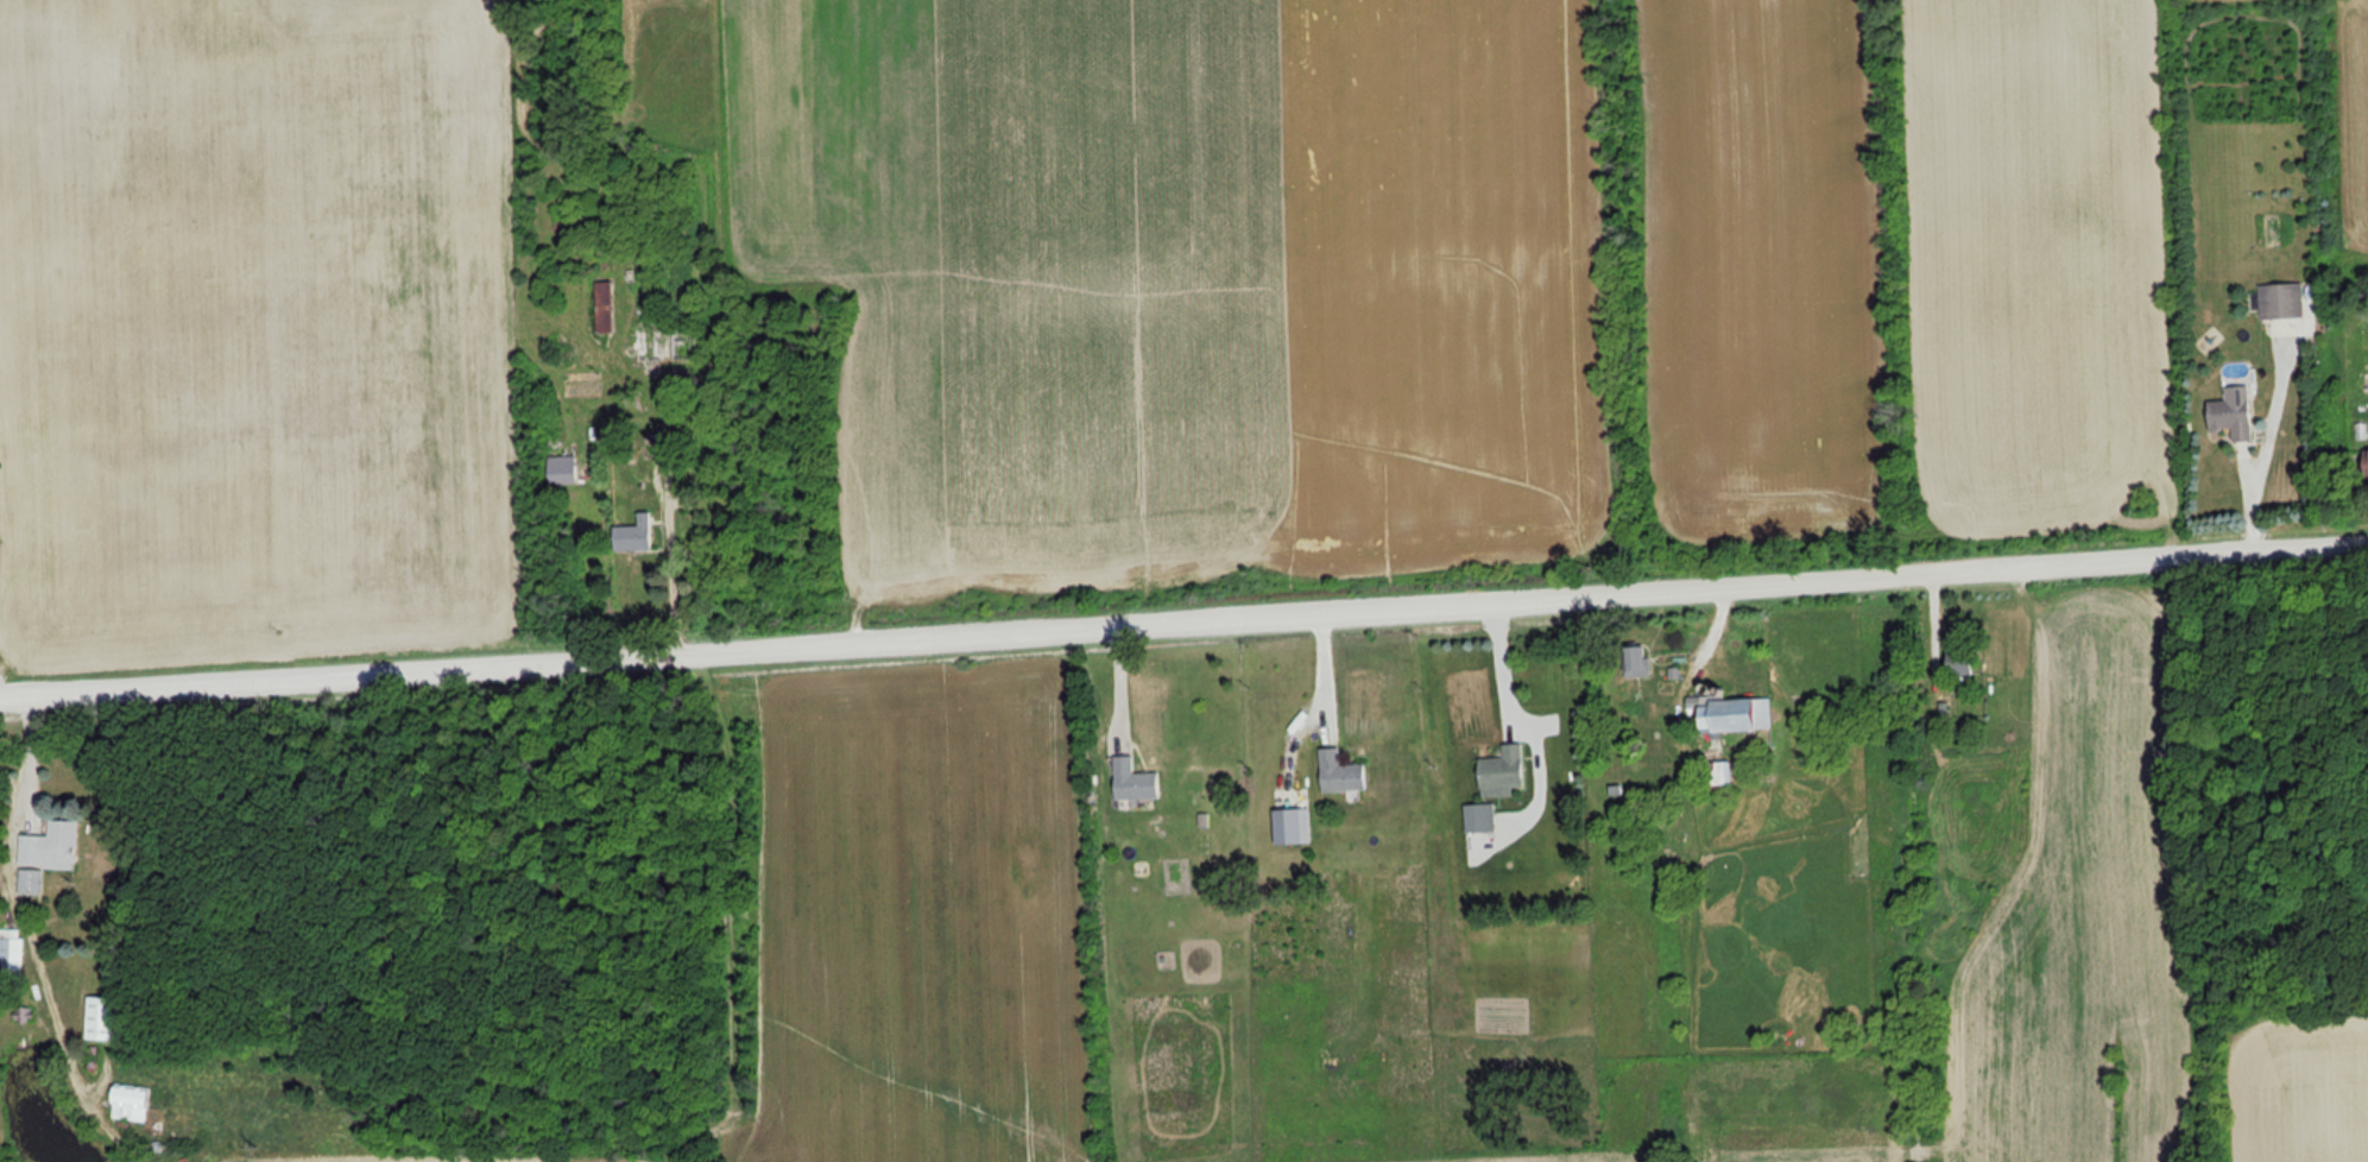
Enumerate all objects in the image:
building: (2281, 299)
building: (602, 304)
building: (664, 346)
building: (2231, 413)
building: (2363, 466)
building: (631, 538)
road: (1183, 618)
building: (1635, 661)
building: (1957, 661)
building: (1731, 714)
building: (1339, 772)
building: (1499, 772)
building: (1716, 772)
building: (1132, 779)
building: (1477, 817)
building: (56, 845)
building: (34, 880)
building: (11, 954)
building: (102, 1017)
building: (128, 1103)

